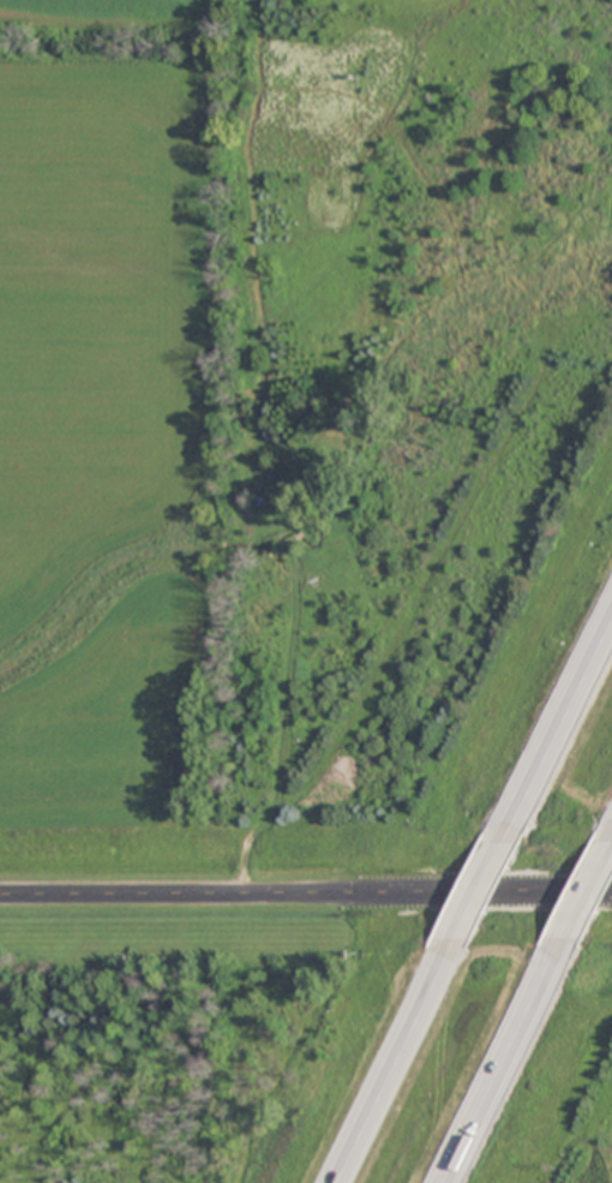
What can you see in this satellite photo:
road: (557, 725)
road: (306, 888)
road: (587, 889)
road: (475, 892)
road: (506, 1063)
road: (395, 1065)

